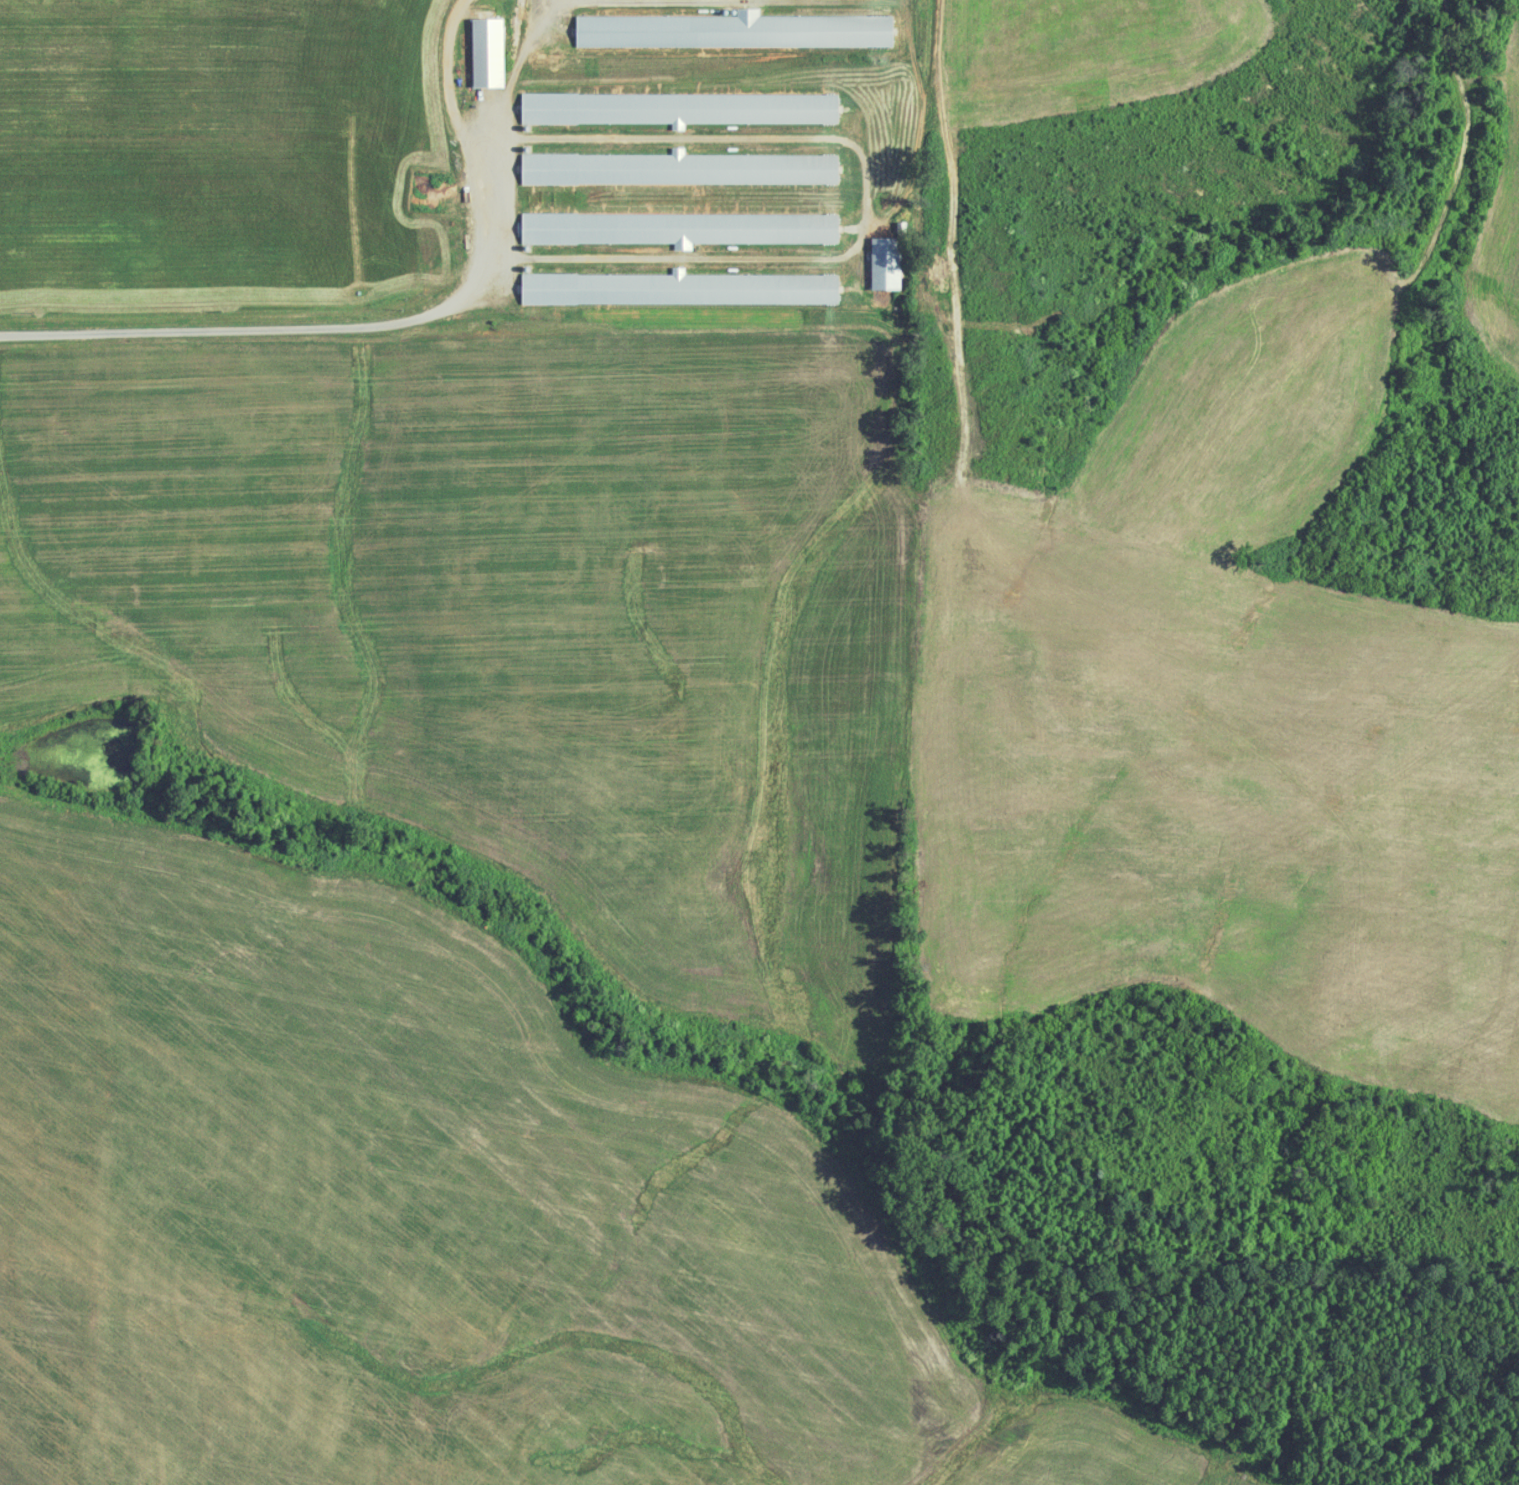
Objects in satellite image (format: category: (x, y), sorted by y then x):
building: (733, 30)
building: (486, 51)
building: (677, 108)
building: (679, 168)
building: (678, 228)
building: (884, 263)
building: (679, 288)
road: (326, 327)

